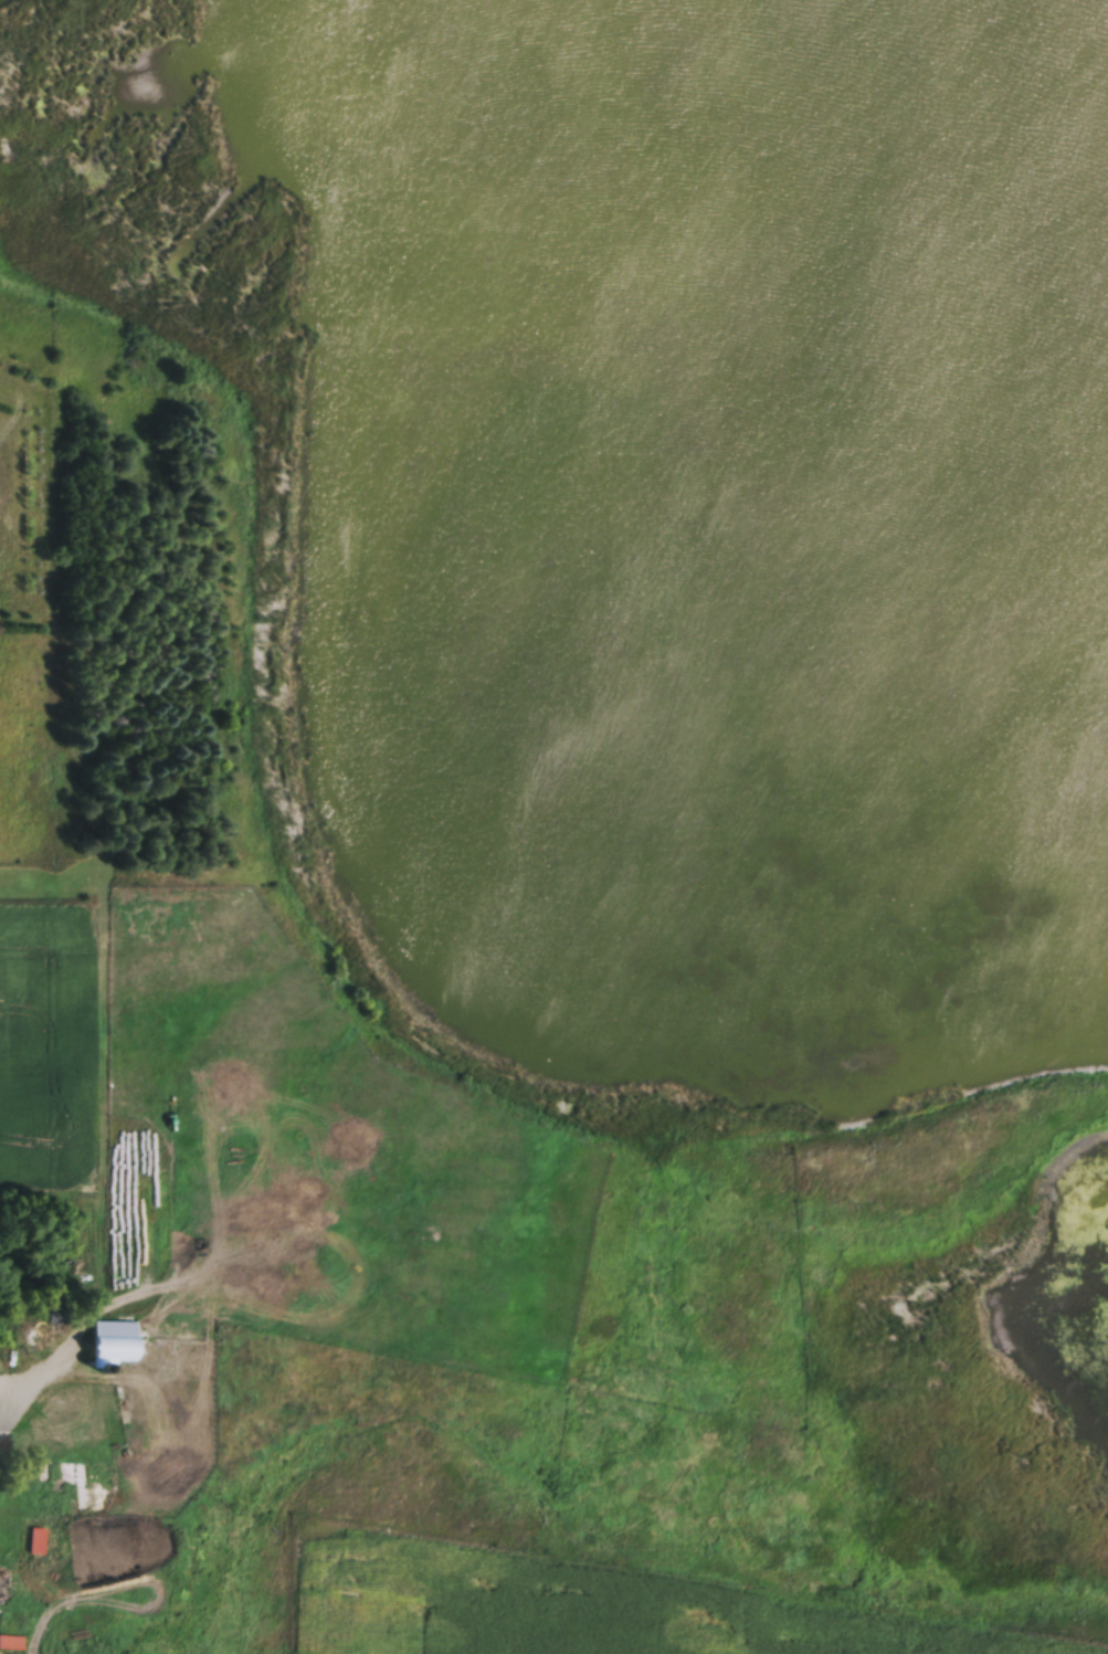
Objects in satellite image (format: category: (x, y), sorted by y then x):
power tower: (157, 924)
power tower: (443, 1161)
building: (117, 1337)
road: (42, 1381)
power tower: (730, 1404)

